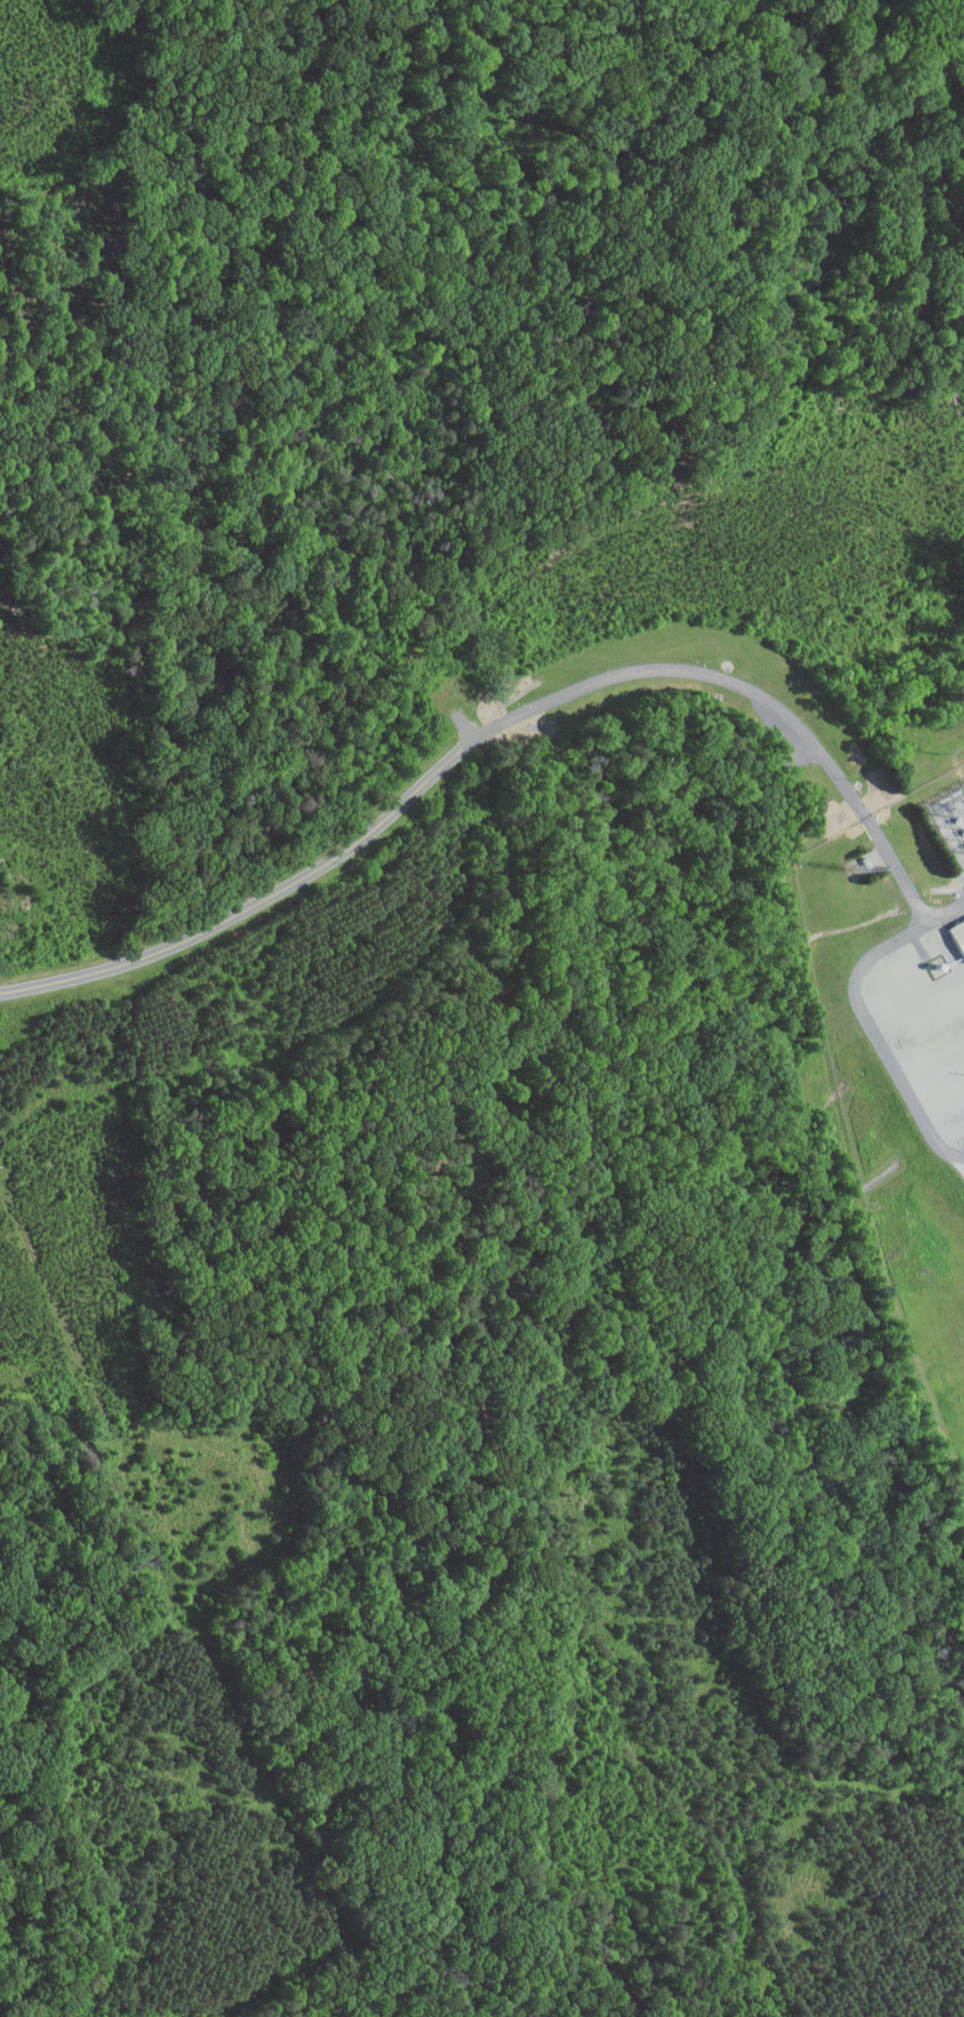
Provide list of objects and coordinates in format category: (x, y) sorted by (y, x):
road: (489, 731)
power tower: (942, 754)
power tower: (963, 793)
power substation: (952, 820)
road: (945, 910)
building: (934, 985)
road: (877, 1031)

